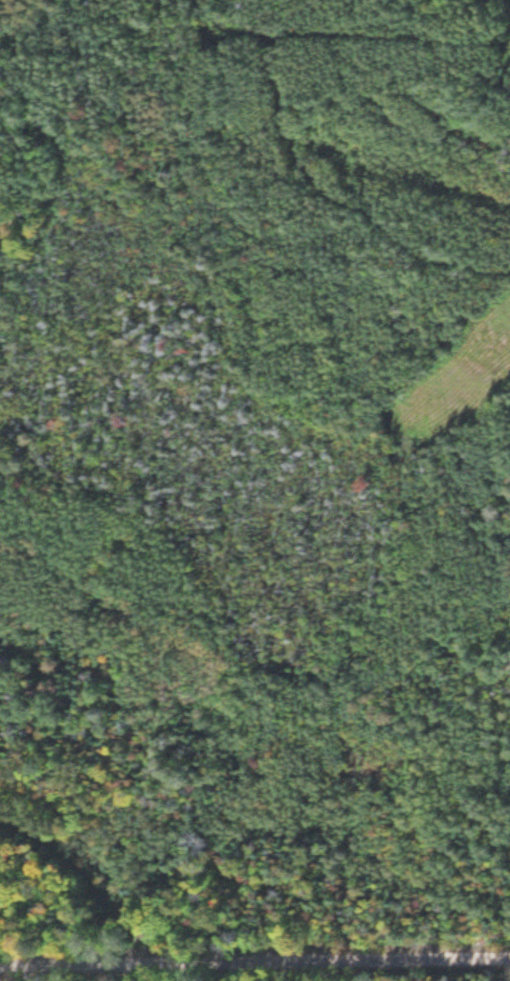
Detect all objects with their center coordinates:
road: (255, 961)

